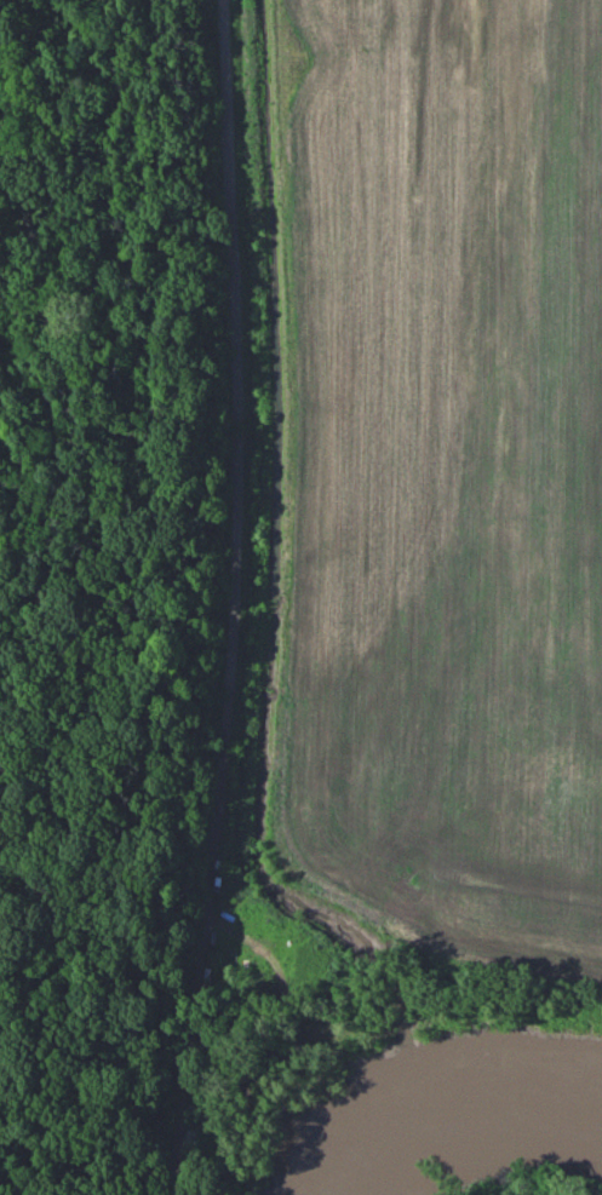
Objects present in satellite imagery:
road: (240, 598)
river: (457, 1113)
road: (96, 1167)

